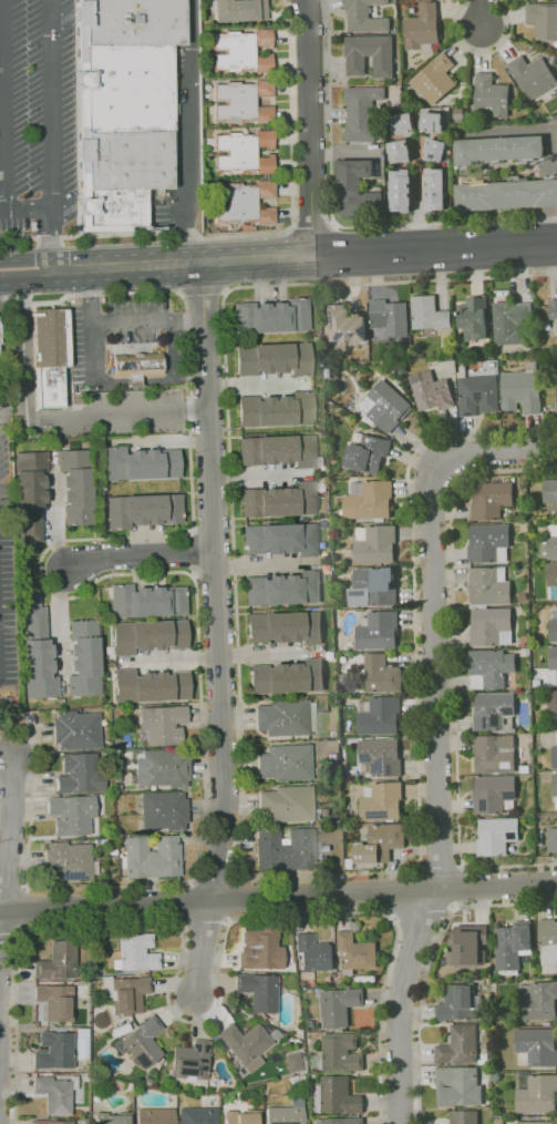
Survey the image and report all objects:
building: (237, 10)
road: (478, 12)
building: (363, 17)
building: (543, 20)
building: (421, 25)
building: (243, 50)
road: (479, 52)
building: (369, 54)
building: (532, 75)
building: (434, 78)
building: (489, 95)
building: (244, 101)
road: (3, 104)
building: (123, 106)
road: (328, 111)
building: (361, 111)
parking lot: (33, 112)
building: (431, 122)
building: (401, 123)
road: (310, 127)
road: (188, 131)
road: (51, 134)
building: (497, 149)
building: (244, 150)
building: (434, 150)
building: (398, 151)
building: (355, 188)
building: (434, 188)
building: (399, 191)
building: (506, 194)
building: (243, 202)
road: (25, 210)
road: (417, 215)
road: (444, 221)
road: (333, 223)
road: (311, 226)
road: (290, 227)
road: (258, 233)
road: (303, 256)
road: (25, 270)
road: (203, 289)
road: (225, 290)
road: (180, 293)
building: (553, 308)
building: (270, 315)
building: (430, 315)
building: (391, 317)
building: (472, 317)
building: (512, 321)
road: (118, 324)
building: (347, 324)
road: (225, 330)
building: (56, 358)
building: (272, 359)
building: (140, 360)
building: (492, 365)
building: (402, 367)
building: (523, 388)
building: (432, 391)
building: (477, 392)
building: (556, 396)
building: (386, 406)
building: (275, 409)
road: (45, 418)
building: (371, 421)
road: (509, 449)
building: (277, 450)
building: (368, 453)
building: (141, 463)
building: (75, 486)
building: (550, 490)
building: (29, 495)
building: (279, 500)
building: (369, 500)
building: (492, 500)
building: (143, 510)
building: (280, 539)
building: (553, 542)
building: (375, 543)
building: (489, 543)
road: (140, 555)
road: (137, 572)
building: (553, 579)
road: (215, 583)
building: (377, 584)
building: (491, 585)
building: (283, 587)
building: (524, 597)
building: (146, 601)
building: (492, 626)
building: (553, 626)
building: (285, 627)
building: (379, 630)
building: (147, 635)
building: (527, 638)
building: (35, 651)
building: (529, 651)
road: (256, 654)
building: (554, 657)
building: (83, 658)
road: (173, 658)
road: (436, 663)
building: (491, 668)
road: (454, 671)
building: (381, 674)
building: (287, 676)
building: (537, 683)
building: (149, 685)
building: (553, 701)
building: (495, 712)
building: (380, 715)
building: (287, 717)
building: (162, 724)
building: (76, 730)
building: (494, 754)
building: (382, 756)
building: (555, 756)
road: (419, 759)
building: (286, 763)
building: (163, 768)
building: (81, 774)
building: (555, 785)
building: (493, 793)
building: (383, 801)
building: (288, 804)
building: (165, 810)
building: (73, 814)
building: (348, 826)
road: (10, 835)
building: (497, 836)
building: (540, 839)
building: (553, 839)
building: (381, 842)
building: (287, 850)
building: (151, 857)
building: (69, 861)
building: (350, 862)
road: (437, 867)
road: (216, 875)
road: (239, 896)
road: (278, 899)
road: (9, 931)
road: (0, 944)
building: (468, 946)
building: (514, 946)
building: (548, 946)
road: (203, 950)
building: (261, 950)
building: (136, 953)
building: (314, 953)
building: (354, 953)
building: (441, 953)
road: (426, 960)
building: (60, 961)
building: (333, 982)
building: (259, 991)
building: (127, 994)
building: (538, 1000)
building: (55, 1001)
road: (401, 1003)
building: (461, 1003)
building: (341, 1005)
road: (208, 1018)
building: (265, 1018)
building: (122, 1021)
building: (548, 1023)
building: (122, 1030)
building: (274, 1032)
building: (144, 1042)
building: (246, 1043)
building: (460, 1045)
building: (83, 1046)
building: (538, 1046)
building: (55, 1049)
building: (340, 1053)
building: (292, 1062)
building: (192, 1063)
building: (298, 1077)
building: (148, 1081)
building: (116, 1084)
building: (460, 1085)
building: (130, 1086)
building: (536, 1092)
building: (56, 1094)
building: (337, 1096)
building: (287, 1113)
building: (156, 1115)
building: (198, 1115)
building: (465, 1116)
building: (111, 1117)
building: (243, 1117)
building: (341, 1121)
building: (499, 1121)
building: (51, 1122)
building: (537, 1122)

